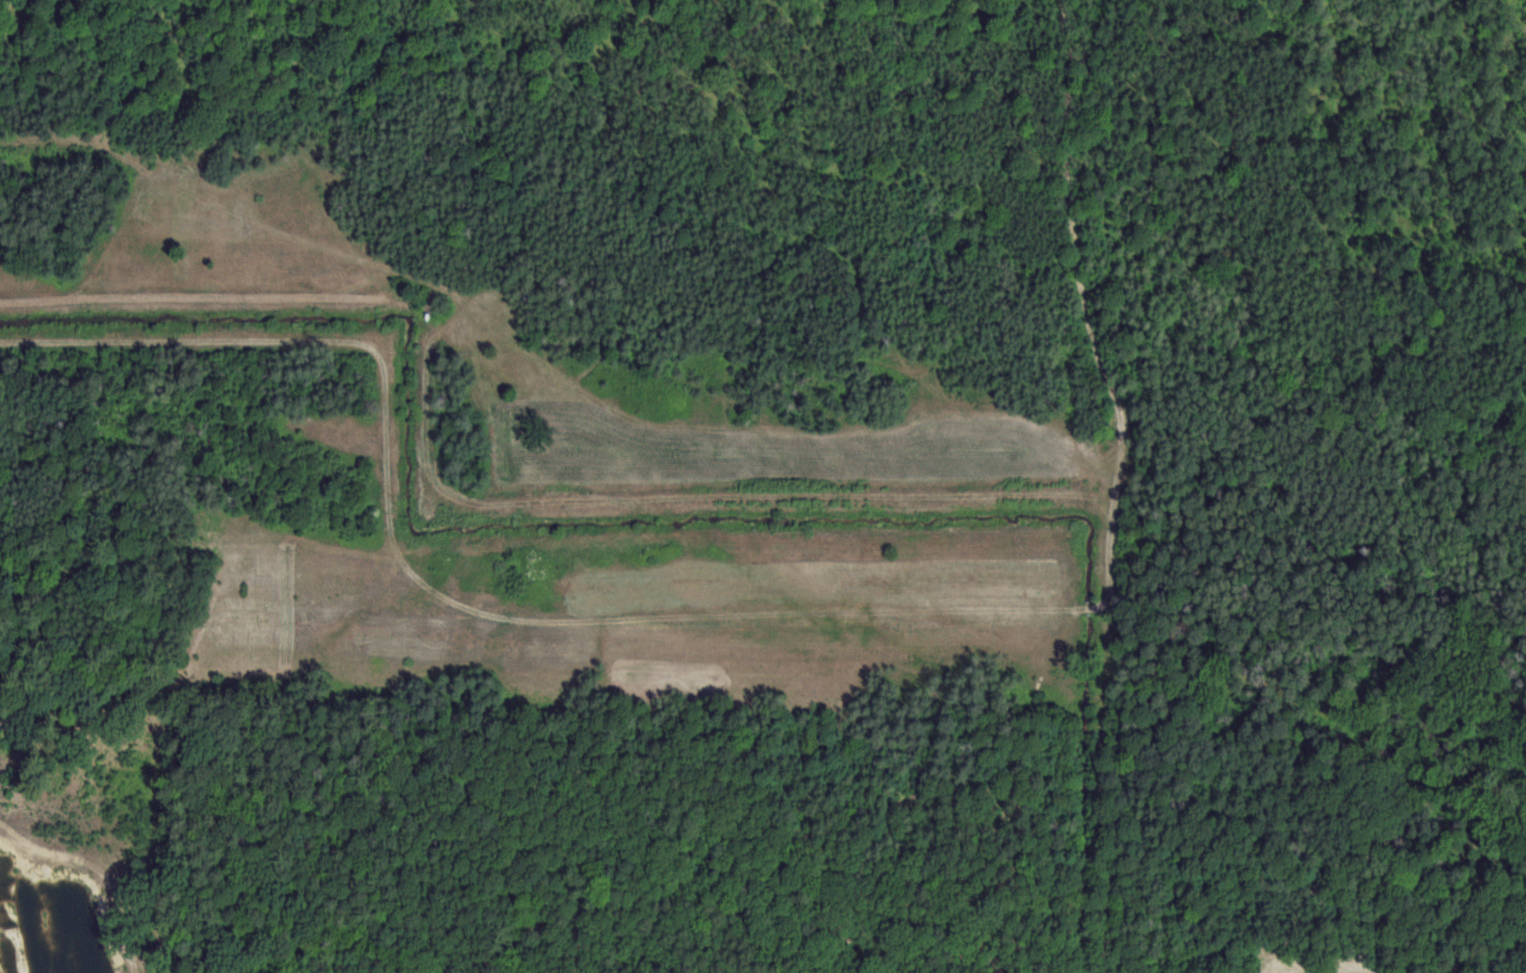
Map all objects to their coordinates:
road: (1068, 157)
road: (1097, 642)

